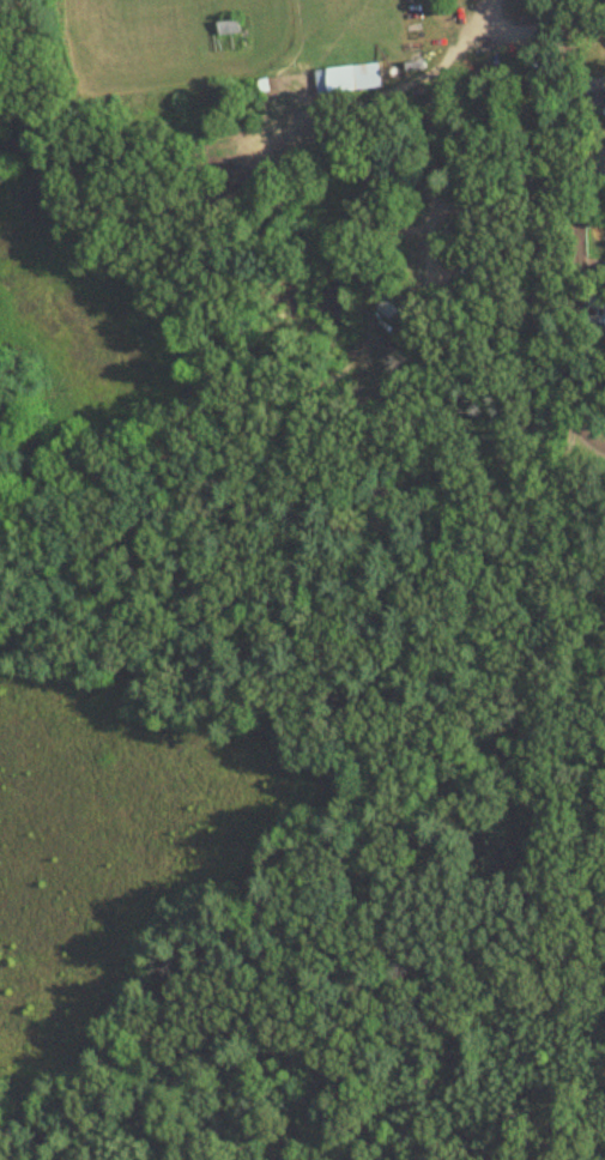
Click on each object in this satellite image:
road: (521, 28)
building: (230, 29)
road: (458, 38)
building: (349, 80)
road: (575, 236)

